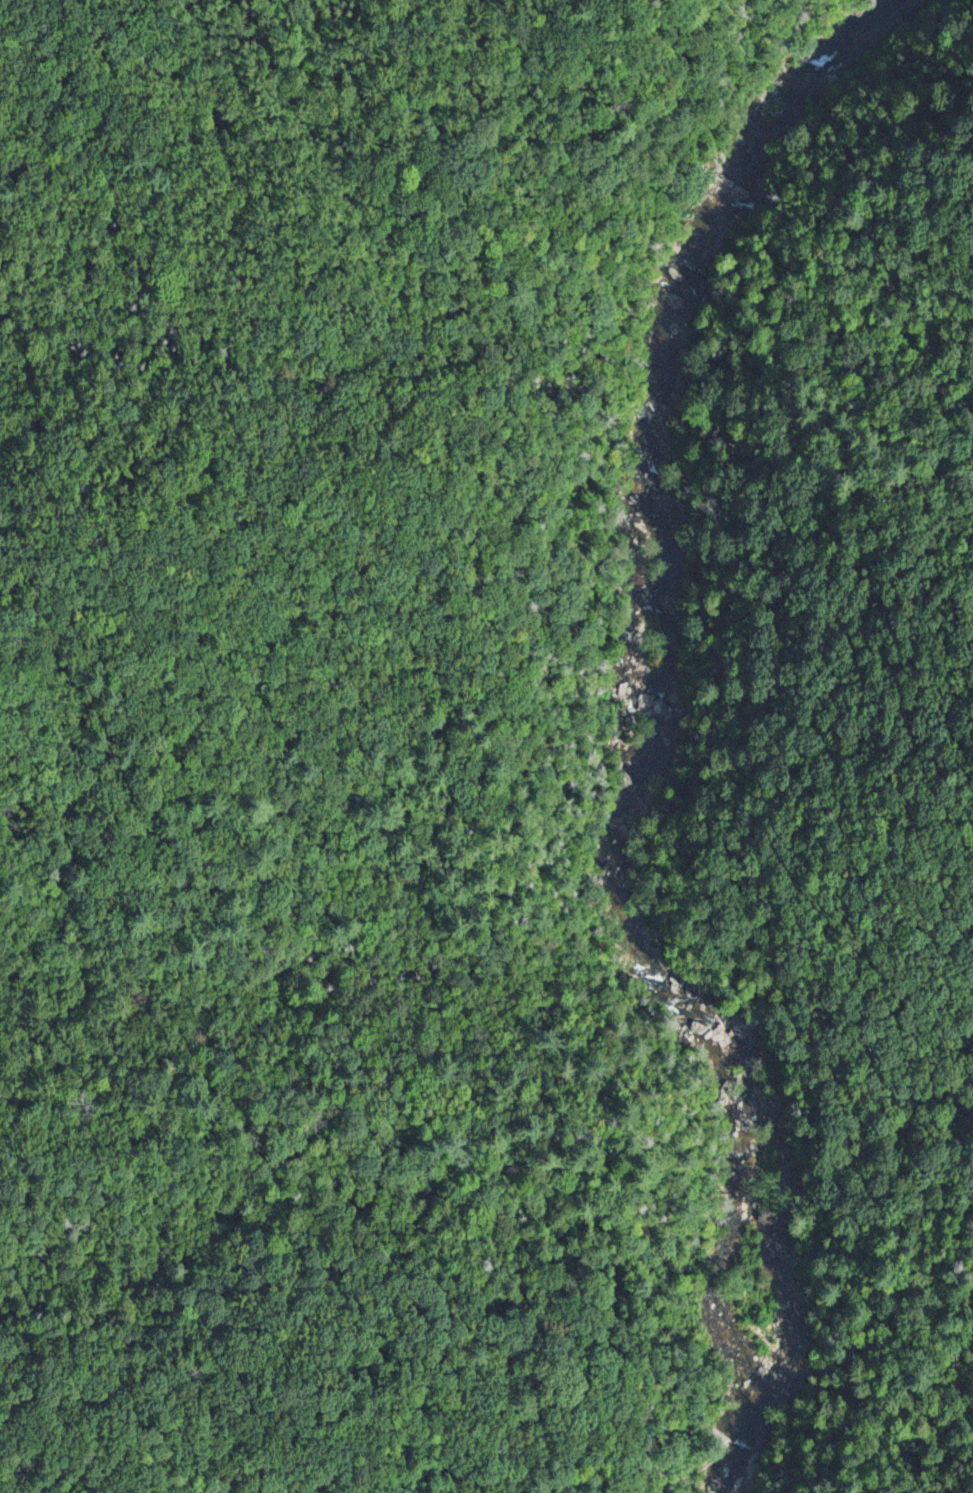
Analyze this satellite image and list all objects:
river: (795, 104)
road: (150, 185)
river: (677, 579)
road: (64, 974)
river: (713, 1015)
river: (765, 1306)

